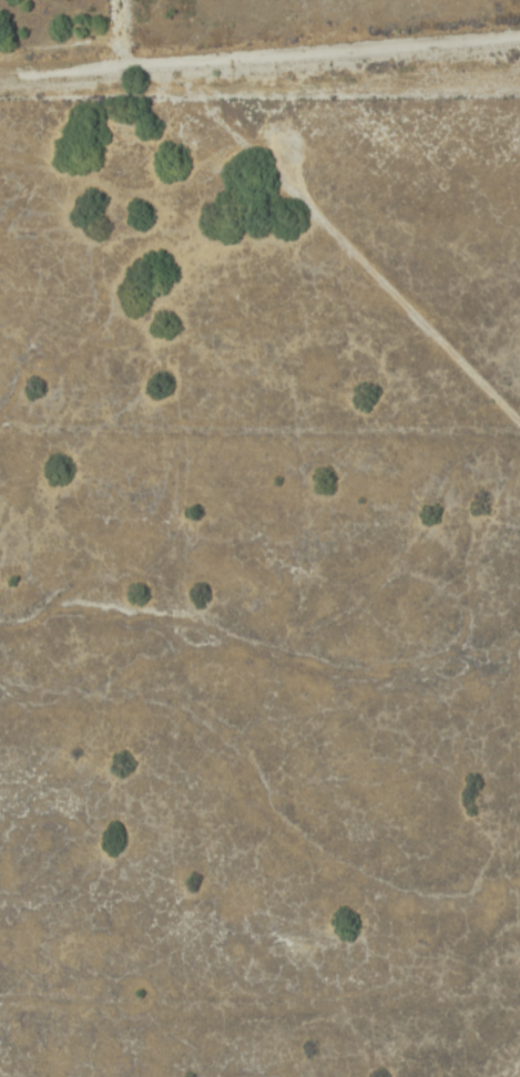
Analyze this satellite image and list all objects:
road: (259, 48)
road: (411, 306)

